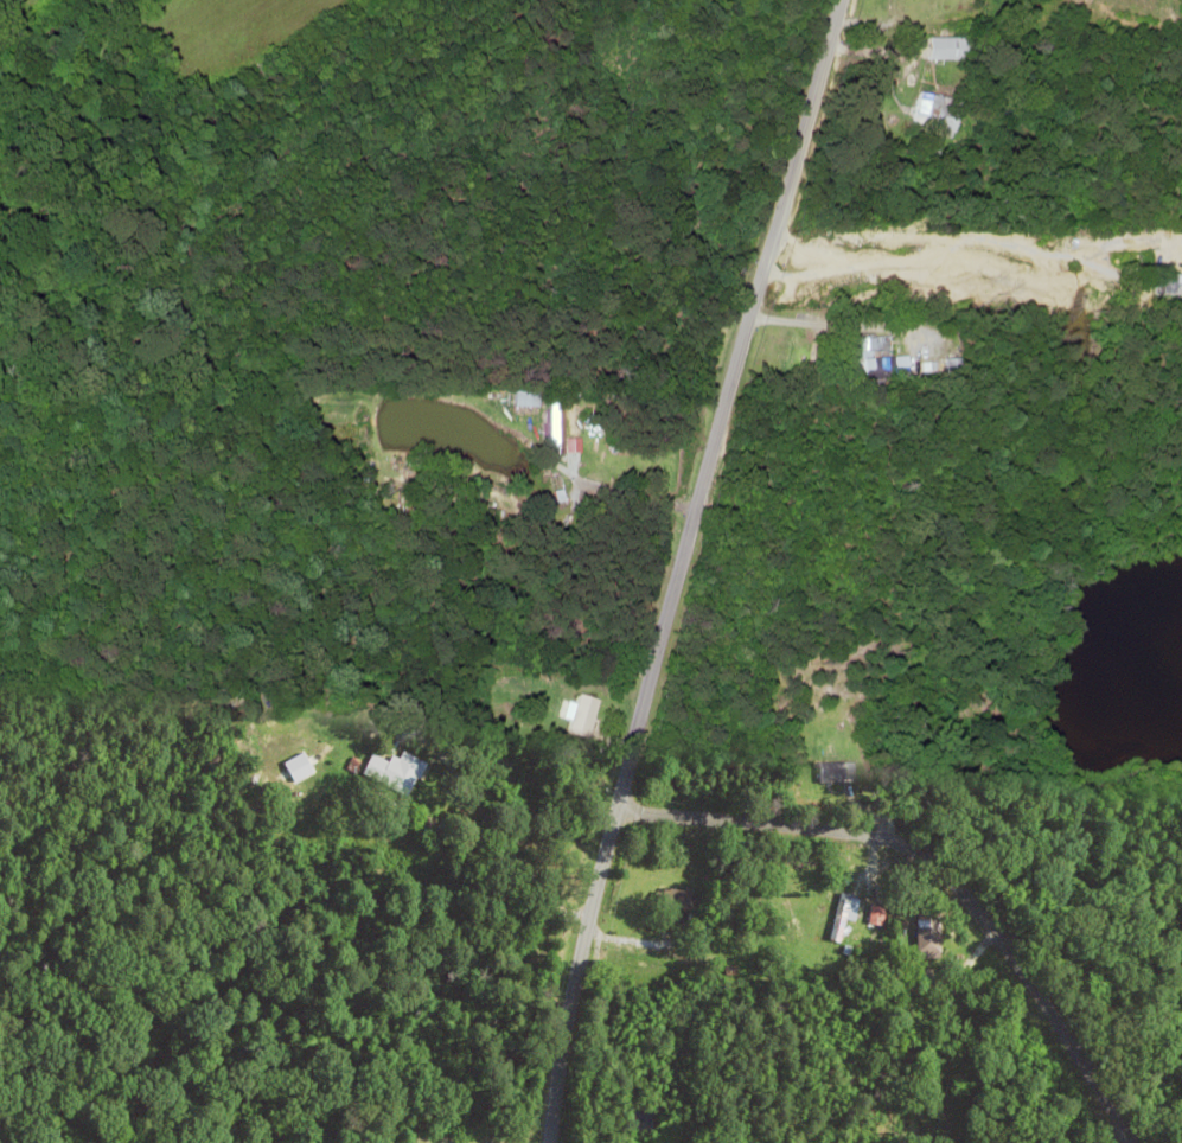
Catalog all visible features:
building: (943, 46)
building: (934, 110)
building: (1170, 279)
building: (803, 351)
building: (884, 365)
building: (556, 426)
road: (682, 566)
building: (583, 714)
building: (395, 771)
building: (831, 771)
road: (933, 882)
building: (676, 901)
building: (843, 914)
building: (921, 933)

